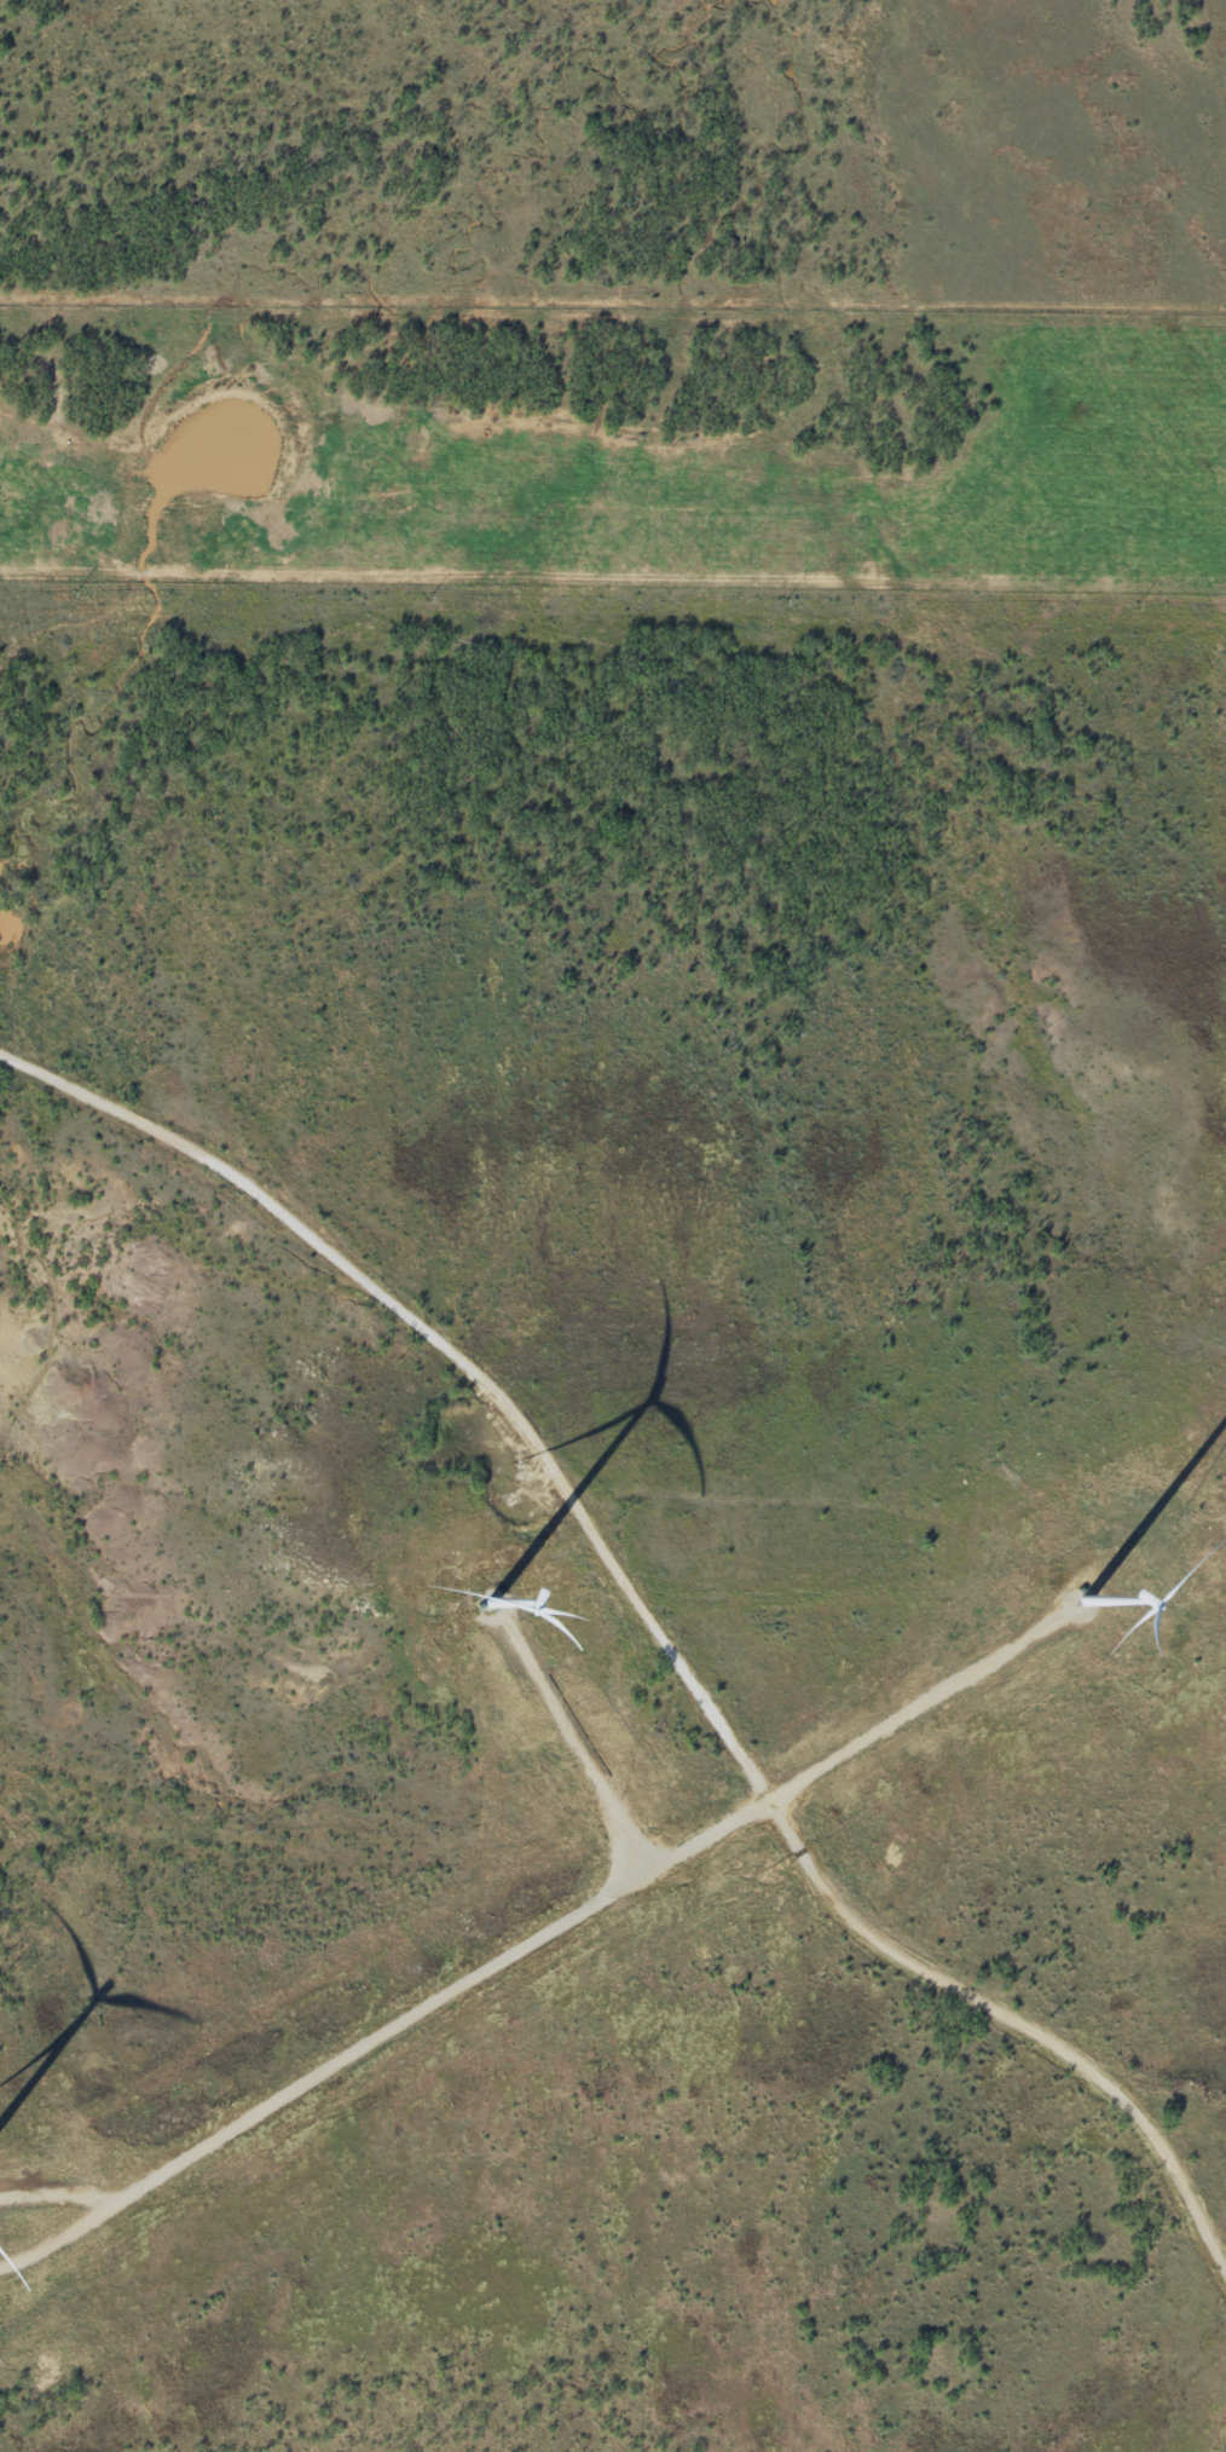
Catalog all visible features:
road: (498, 1471)
wind turbine: (1087, 1604)
wind turbine: (492, 1609)
road: (852, 2000)

